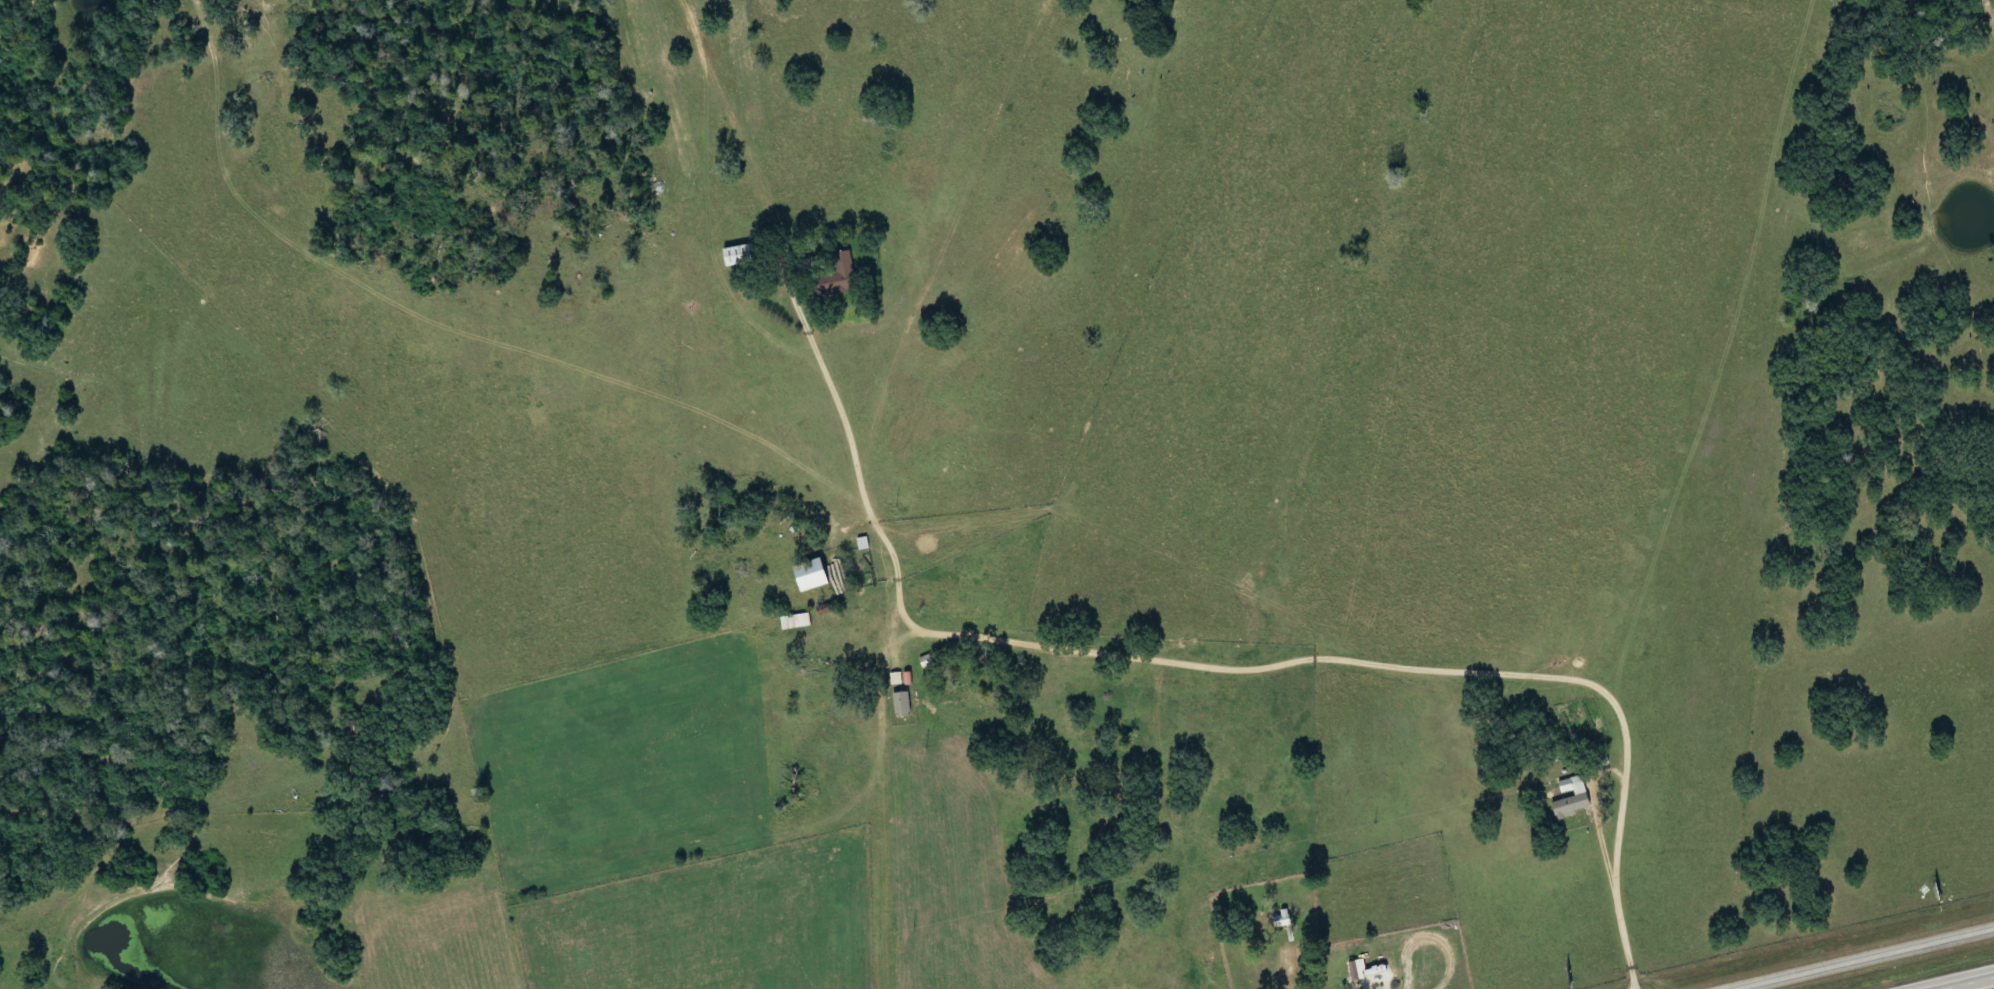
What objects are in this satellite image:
road: (210, 25)
building: (732, 253)
building: (830, 275)
building: (850, 537)
building: (805, 574)
building: (790, 621)
road: (1074, 642)
building: (921, 661)
building: (897, 704)
building: (380, 782)
road: (171, 792)
building: (1567, 798)
building: (1276, 920)
road: (1286, 957)
road: (1857, 957)
road: (1968, 982)

